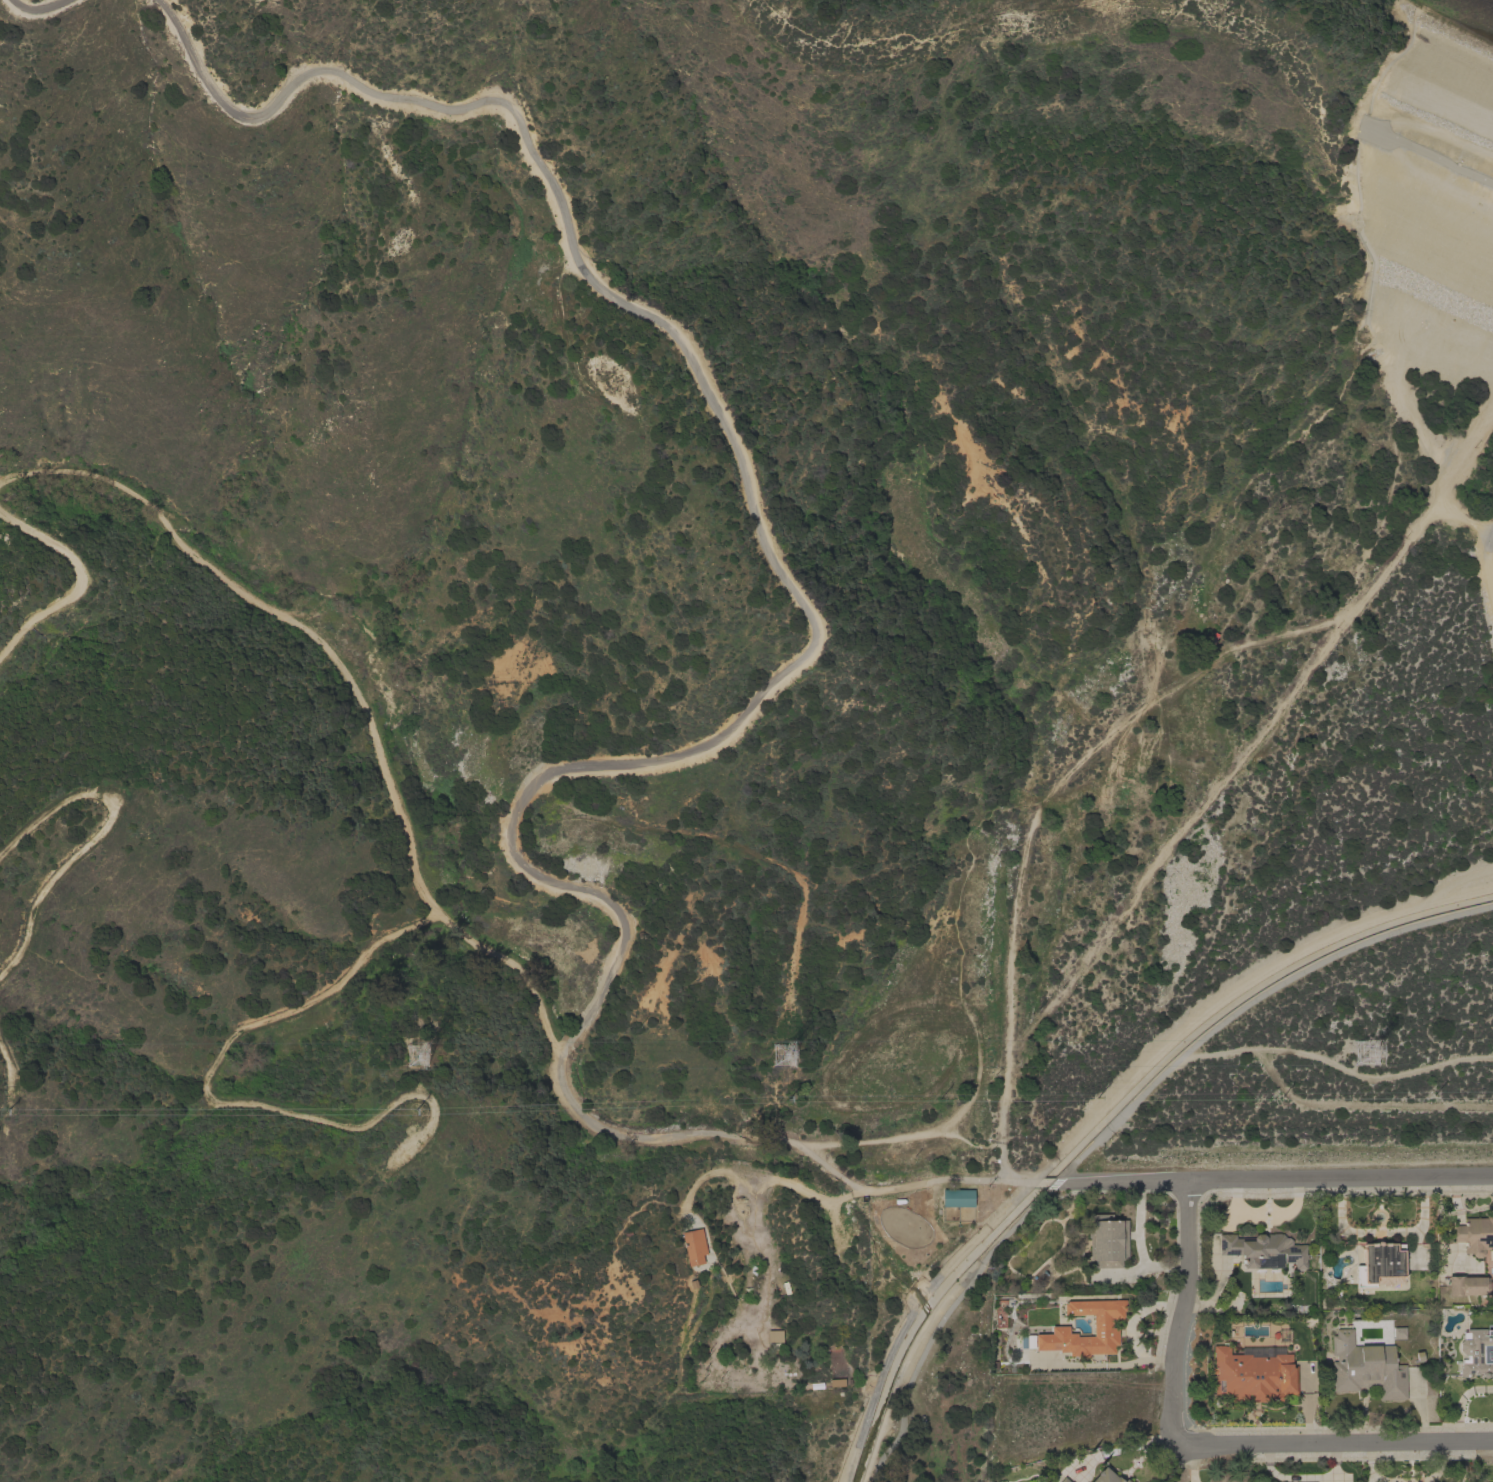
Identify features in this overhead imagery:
road: (35, 18)
dam: (1426, 155)
road: (739, 466)
road: (1486, 563)
road: (83, 584)
road: (353, 691)
road: (1229, 987)
road: (1249, 1002)
power tower: (1364, 1054)
power tower: (407, 1057)
power tower: (773, 1057)
road: (203, 1092)
road: (792, 1143)
road: (1274, 1178)
building: (956, 1197)
road: (1379, 1231)
building: (1475, 1235)
building: (1106, 1240)
building: (693, 1246)
building: (1262, 1249)
building: (1381, 1264)
building: (1466, 1285)
road: (1180, 1313)
road: (940, 1317)
building: (1104, 1330)
building: (1398, 1332)
building: (774, 1336)
building: (1475, 1353)
building: (1365, 1367)
building: (1253, 1374)
road: (1333, 1443)
building: (1105, 1476)
building: (1063, 1480)
building: (1054, 1481)
building: (1126, 1481)

